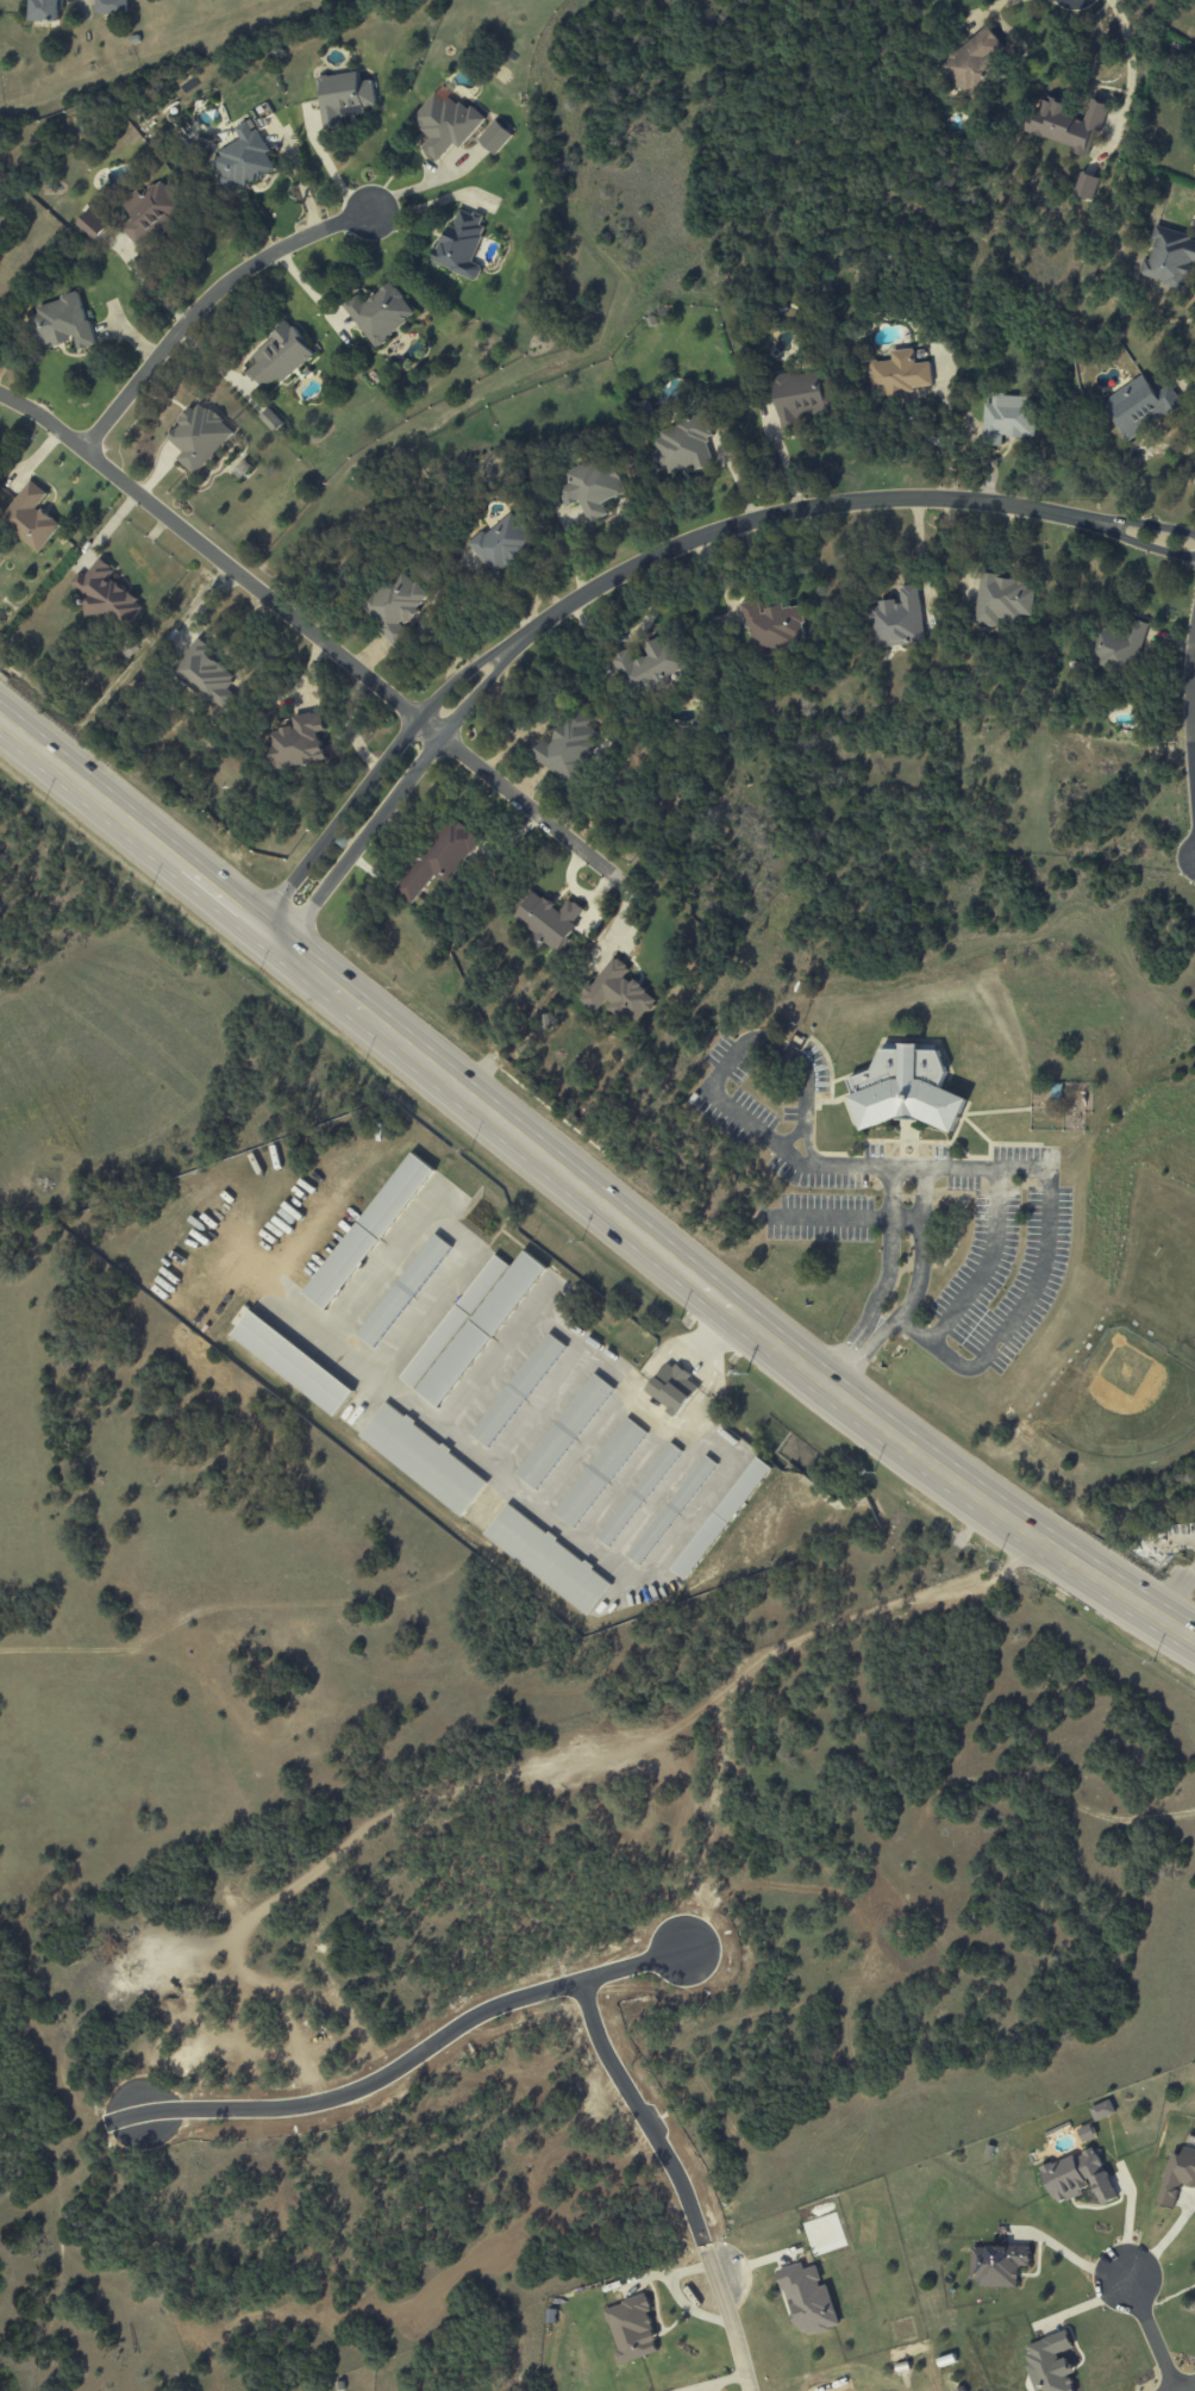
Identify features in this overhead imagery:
building: (111, 7)
building: (46, 11)
building: (971, 64)
road: (1127, 76)
building: (343, 98)
building: (445, 123)
building: (1065, 123)
building: (494, 137)
building: (242, 158)
road: (332, 173)
road: (425, 183)
building: (1085, 186)
building: (150, 213)
building: (93, 225)
building: (461, 244)
building: (1169, 260)
road: (204, 304)
building: (380, 313)
building: (61, 323)
building: (279, 356)
building: (899, 374)
building: (802, 397)
building: (1138, 407)
building: (1007, 418)
building: (270, 419)
building: (198, 437)
building: (682, 445)
building: (594, 488)
road: (776, 513)
building: (30, 517)
road: (1126, 527)
road: (1126, 538)
building: (501, 544)
road: (211, 553)
building: (105, 594)
building: (1003, 599)
building: (394, 605)
building: (897, 620)
building: (771, 626)
building: (1118, 649)
building: (647, 668)
building: (204, 674)
road: (1188, 732)
building: (296, 743)
building: (565, 745)
road: (376, 769)
road: (399, 789)
road: (520, 804)
building: (439, 859)
building: (549, 920)
building: (617, 992)
building: (915, 1091)
road: (808, 1145)
road: (916, 1169)
road: (586, 1198)
parking lot: (905, 1206)
road: (856, 1218)
road: (906, 1218)
building: (368, 1231)
road: (921, 1247)
road: (888, 1259)
road: (983, 1263)
building: (403, 1290)
building: (453, 1322)
building: (481, 1329)
road: (849, 1343)
road: (862, 1356)
building: (292, 1363)
building: (672, 1387)
building: (518, 1391)
park: (1118, 1397)
building: (564, 1431)
building: (423, 1459)
building: (599, 1473)
building: (638, 1494)
building: (671, 1510)
building: (721, 1518)
building: (546, 1560)
building: (1102, 2110)
building: (1085, 2134)
building: (1080, 2174)
building: (1180, 2174)
road: (1164, 2245)
road: (1069, 2255)
building: (1001, 2262)
building: (807, 2298)
road: (730, 2320)
building: (631, 2329)
road: (1151, 2333)
building: (1052, 2361)
road: (1188, 2387)

